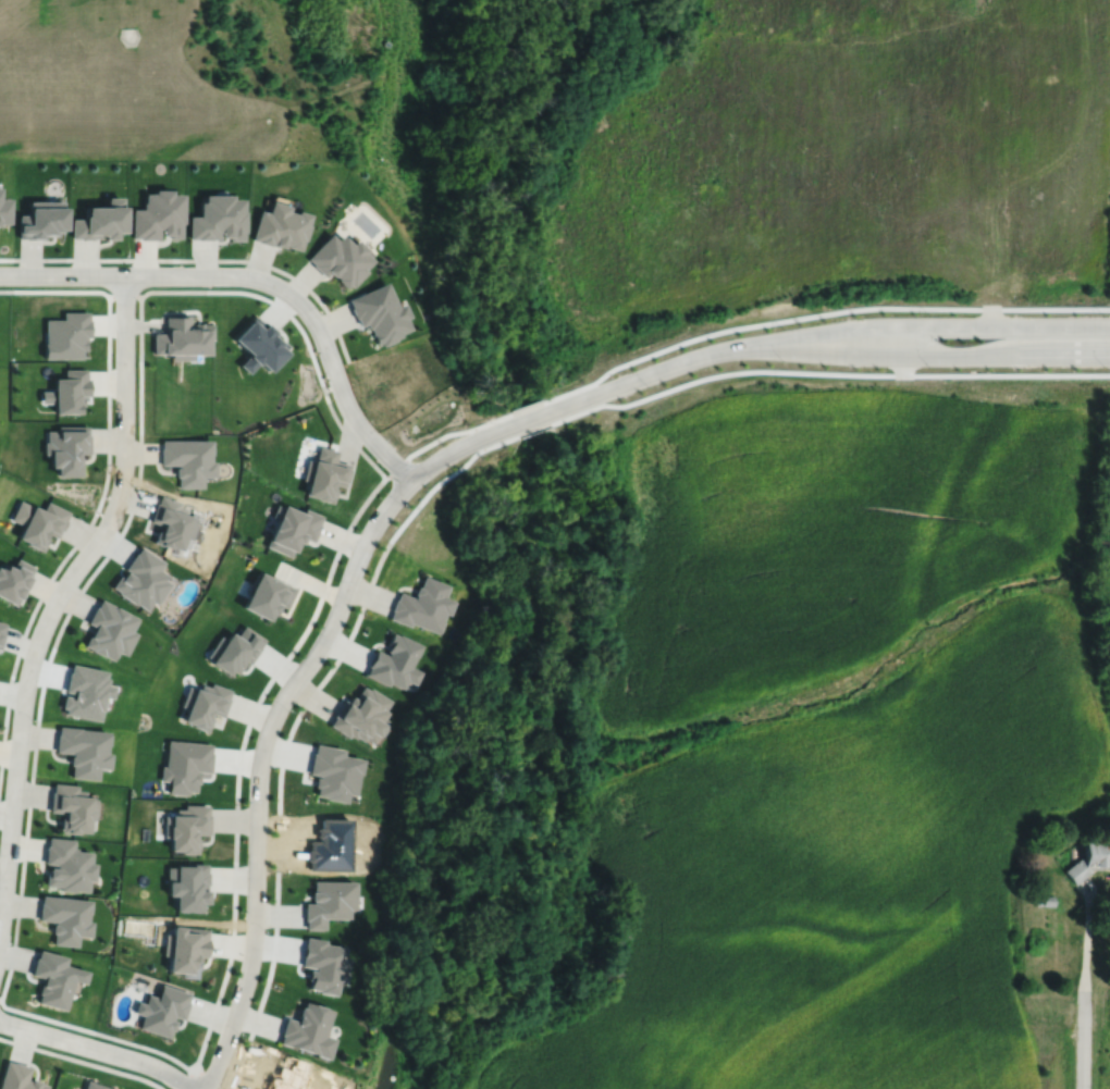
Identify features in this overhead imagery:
park: (74, 0)
crop: (835, 159)
building: (3, 210)
building: (157, 214)
building: (218, 216)
building: (41, 219)
building: (98, 219)
building: (281, 225)
building: (341, 258)
road: (199, 259)
street lamp: (15, 264)
street lamp: (127, 264)
street lamp: (243, 265)
road: (259, 279)
road: (124, 295)
building: (380, 312)
street lamp: (322, 313)
street lamp: (1103, 313)
street lamp: (929, 314)
road: (957, 325)
road: (730, 327)
street lamp: (784, 327)
building: (64, 335)
building: (181, 337)
building: (259, 344)
road: (958, 356)
street lamp: (785, 360)
street lamp: (114, 361)
road: (674, 364)
street lamp: (928, 366)
street lamp: (1105, 367)
road: (321, 386)
street lamp: (649, 386)
building: (67, 391)
road: (531, 418)
street lamp: (491, 421)
street lamp: (383, 435)
building: (66, 448)
building: (187, 460)
building: (324, 474)
street lamp: (133, 485)
road: (102, 494)
street lamp: (403, 506)
building: (39, 523)
building: (170, 523)
building: (292, 529)
street lamp: (59, 576)
building: (140, 580)
street lamp: (338, 580)
building: (14, 581)
building: (267, 595)
road: (57, 599)
building: (423, 606)
road: (358, 616)
building: (109, 631)
building: (2, 632)
building: (234, 651)
building: (395, 663)
building: (86, 694)
building: (203, 705)
road: (276, 710)
street lamp: (289, 710)
building: (361, 716)
street lamp: (33, 720)
crop: (831, 741)
building: (82, 750)
building: (185, 765)
building: (334, 771)
street lamp: (248, 801)
building: (71, 804)
building: (186, 826)
building: (333, 849)
building: (1090, 858)
building: (66, 863)
building: (187, 883)
building: (330, 900)
building: (1049, 900)
building: (1039, 901)
building: (65, 917)
street lamp: (264, 930)
building: (185, 948)
building: (325, 968)
building: (55, 977)
road: (1084, 988)
road: (0, 1000)
building: (161, 1008)
building: (308, 1029)
street lamp: (5, 1034)
street lamp: (239, 1035)
road: (98, 1049)
road: (82, 1061)
building: (288, 1076)
building: (20, 1077)
street lamp: (164, 1085)
building: (94, 1086)

